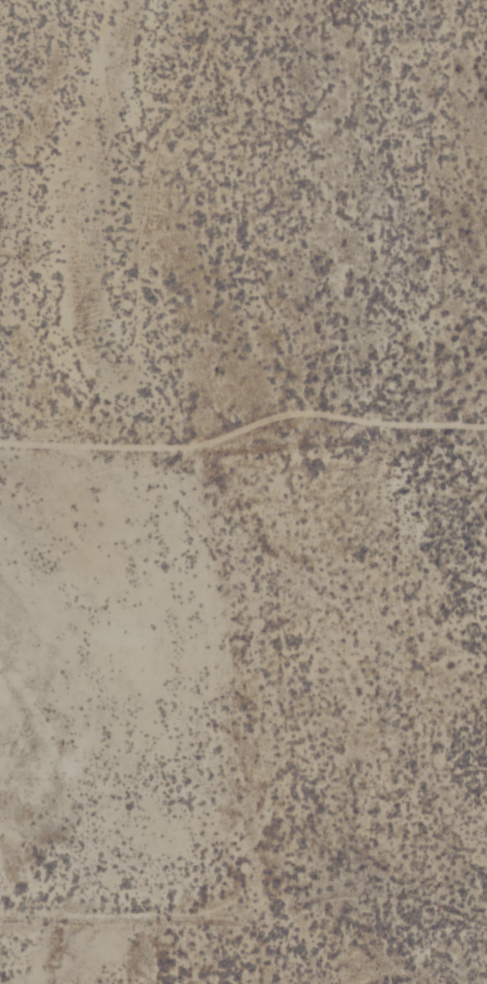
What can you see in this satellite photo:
road: (244, 429)

